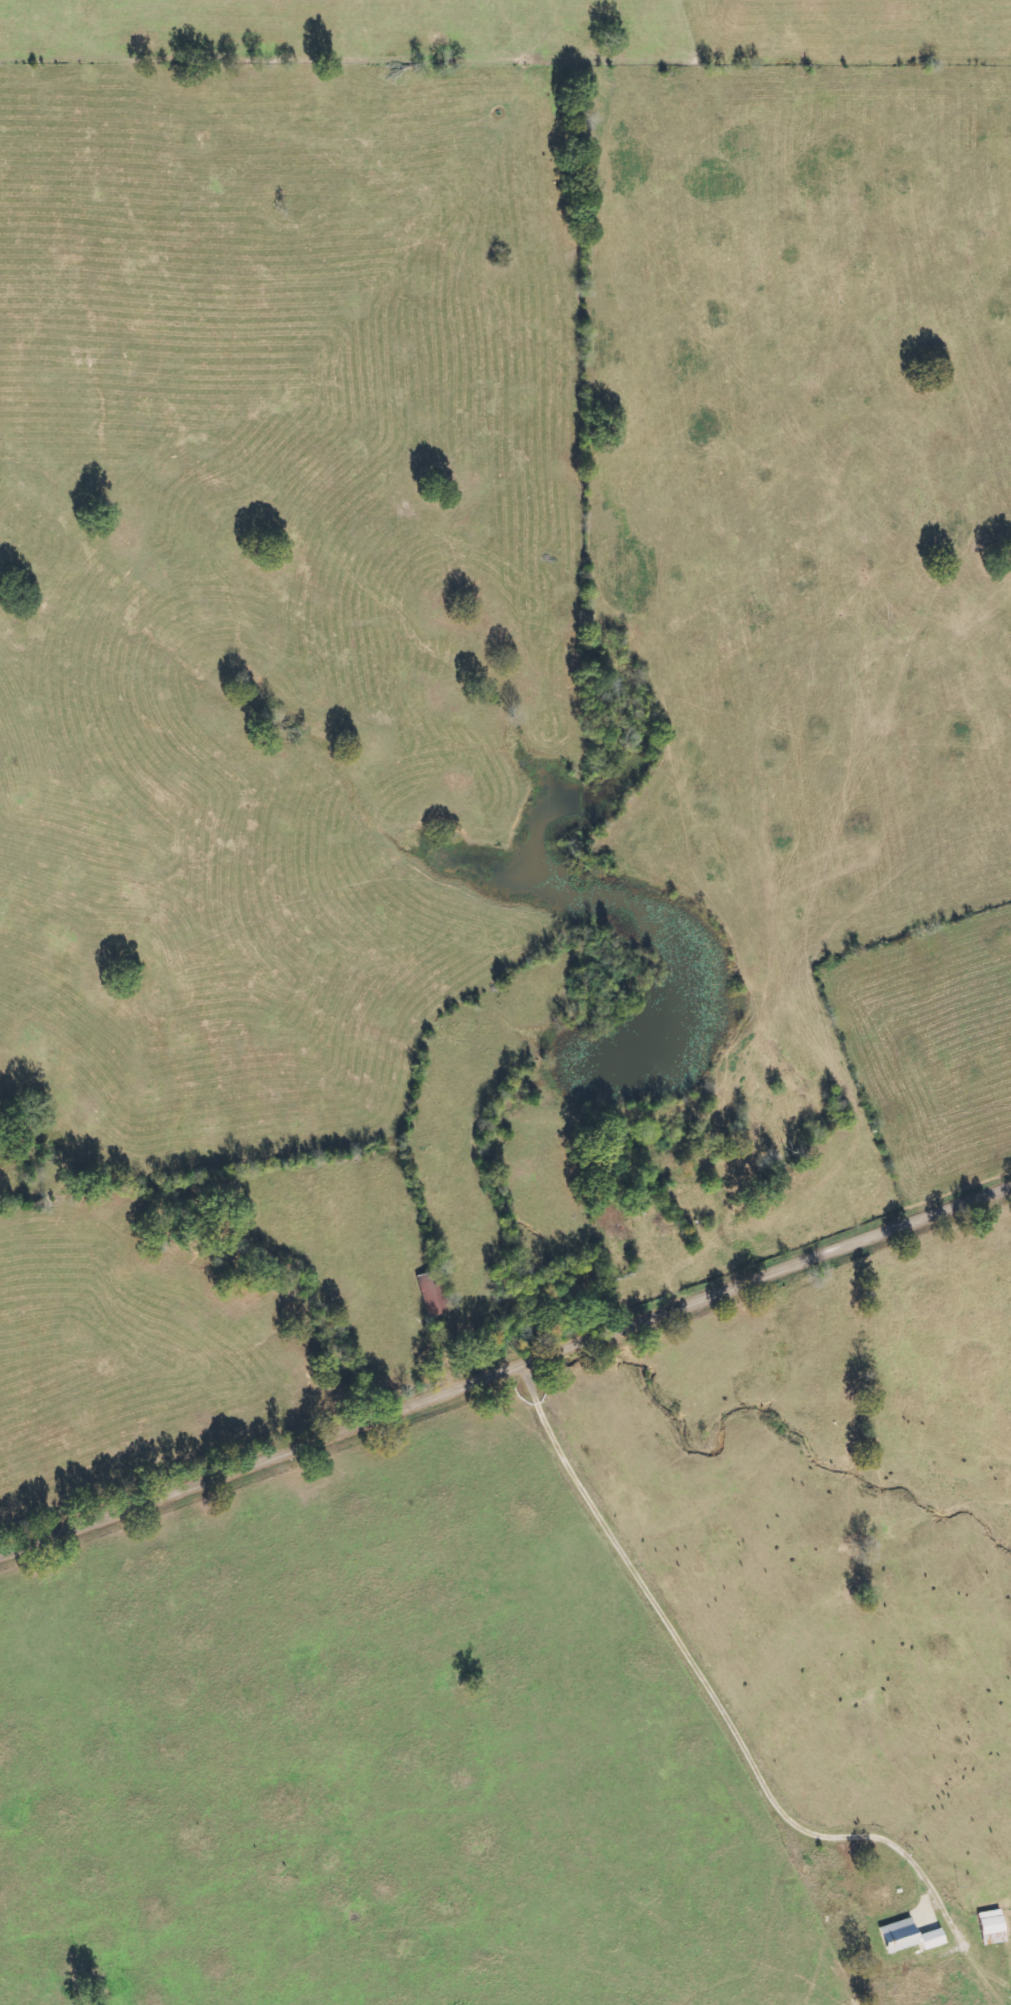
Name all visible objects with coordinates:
road: (505, 1377)
building: (993, 1927)

